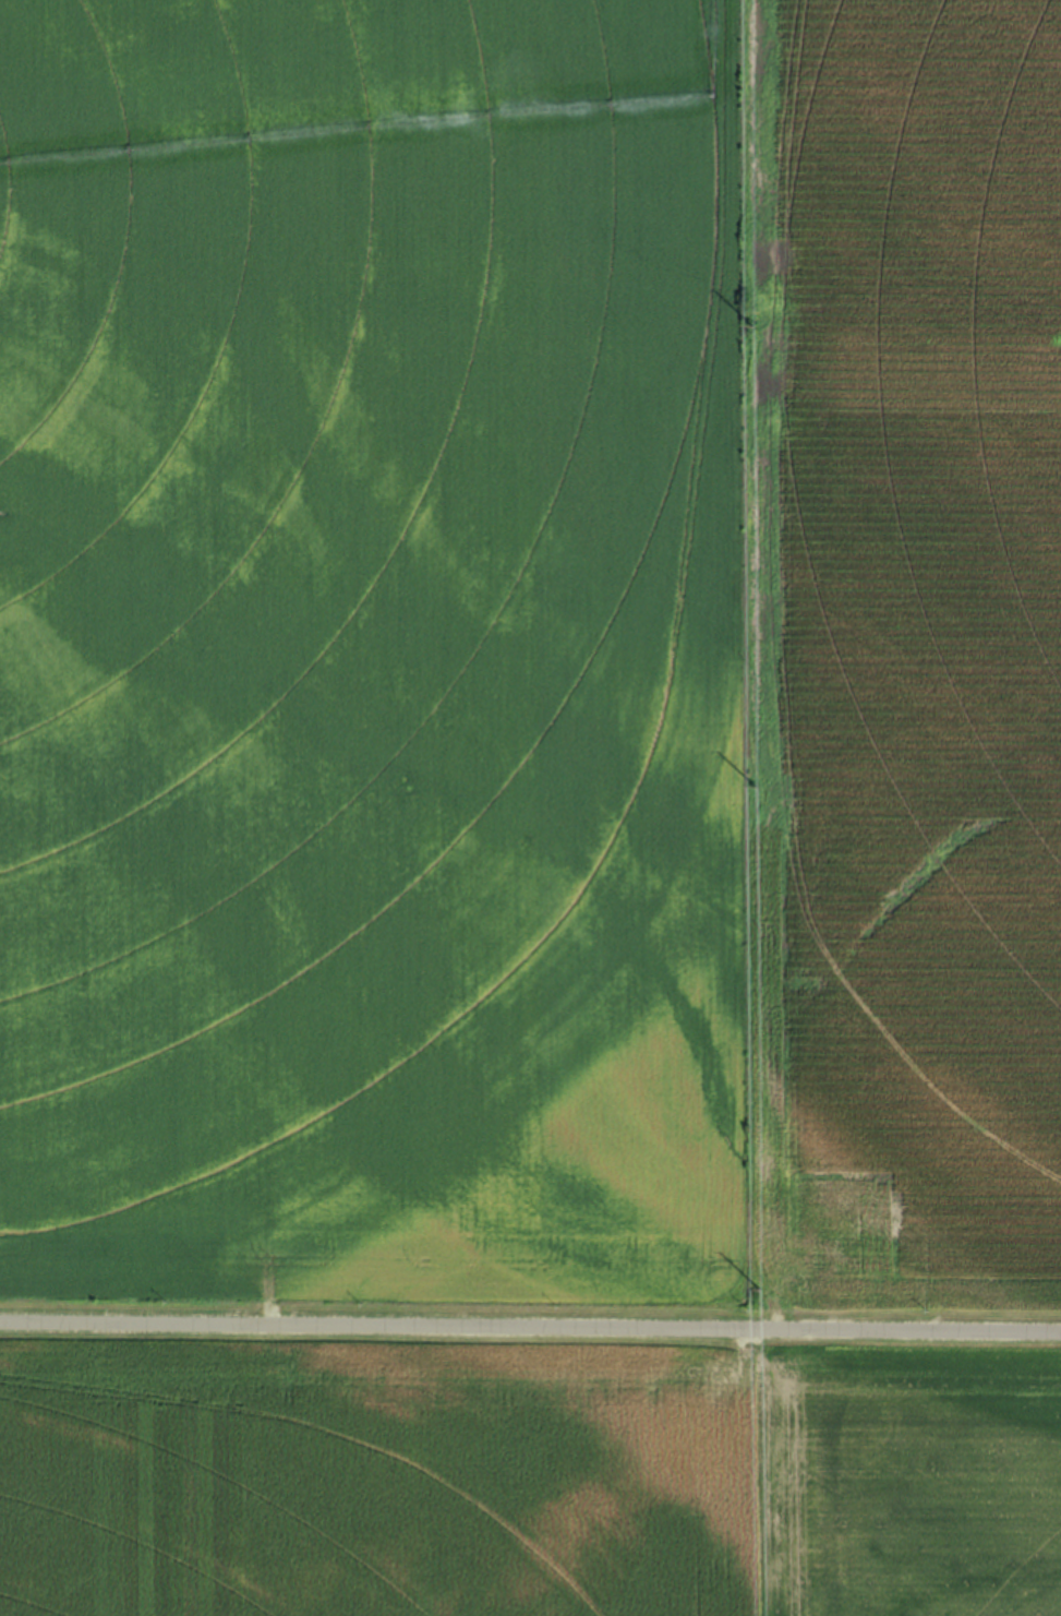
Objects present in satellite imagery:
road: (530, 1332)

